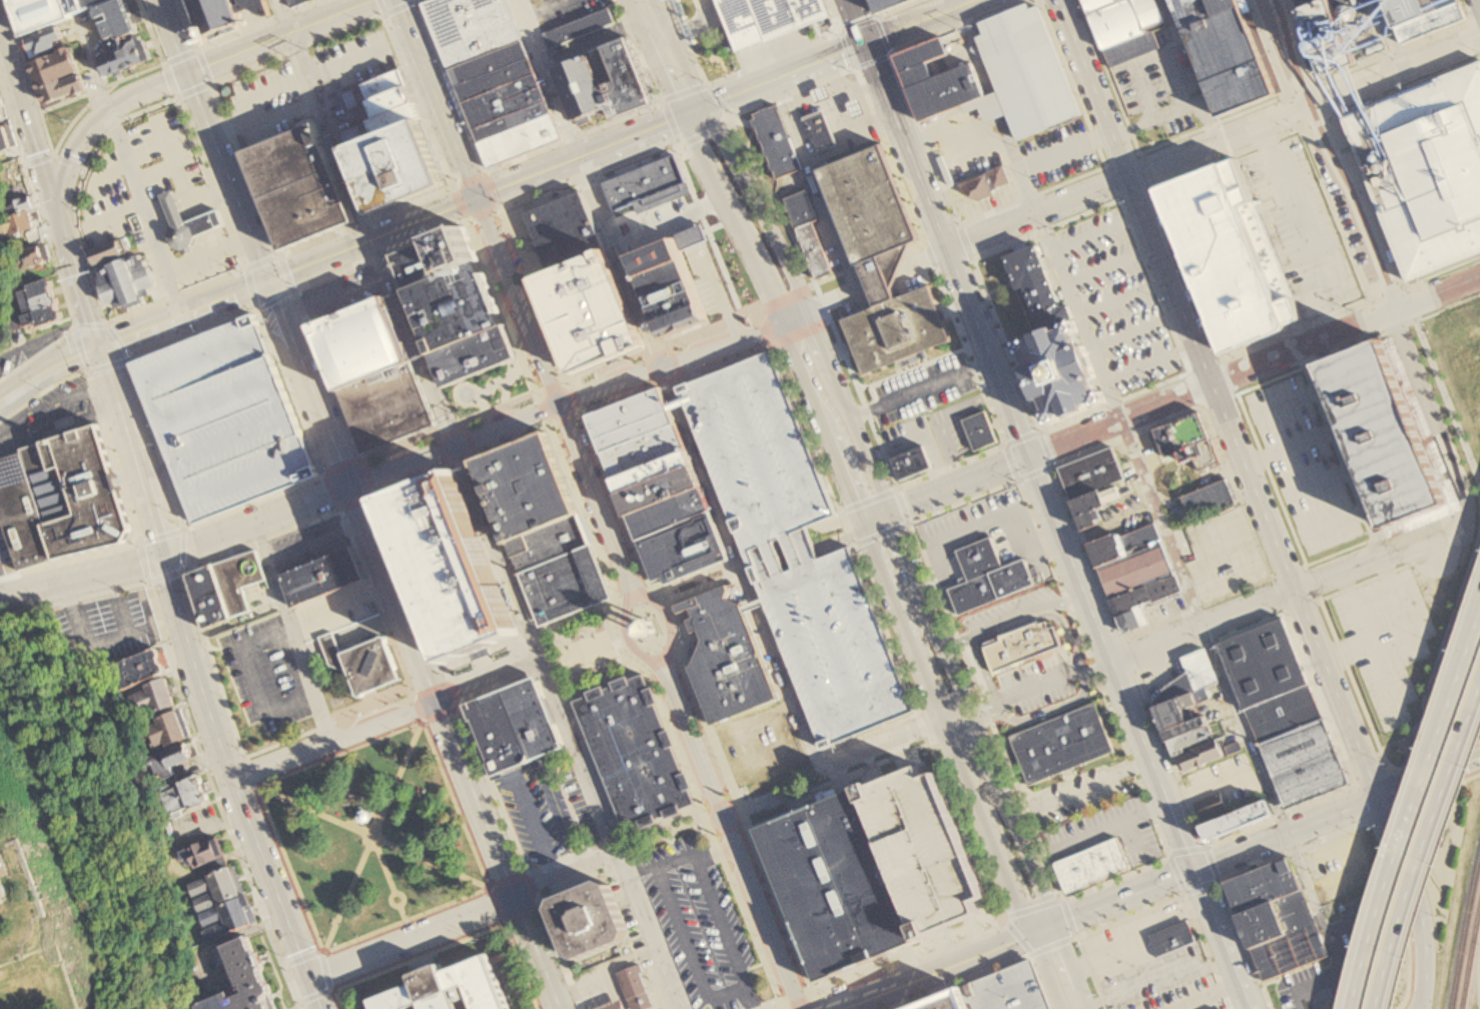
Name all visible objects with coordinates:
building: (292, 1)
road: (1479, 1)
road: (955, 3)
building: (1307, 3)
building: (885, 4)
building: (46, 9)
road: (548, 9)
parking lot: (559, 10)
road: (393, 11)
building: (229, 14)
road: (891, 14)
building: (1425, 16)
building: (767, 18)
road: (921, 21)
building: (119, 22)
road: (859, 22)
building: (579, 24)
building: (471, 27)
building: (1126, 27)
building: (1342, 32)
road: (1478, 33)
road: (236, 35)
road: (283, 39)
road: (170, 40)
building: (49, 44)
road: (590, 44)
traffic signals: (869, 44)
building: (1228, 51)
road: (1289, 52)
road: (888, 54)
building: (123, 56)
road: (786, 57)
road: (652, 59)
road: (1152, 60)
parking lot: (352, 61)
road: (1367, 66)
road: (748, 69)
building: (1026, 70)
building: (577, 73)
road: (1395, 73)
building: (59, 76)
building: (938, 79)
road: (774, 80)
traffic signals: (187, 81)
road: (286, 84)
building: (385, 85)
parking lot: (1160, 87)
building: (500, 90)
road: (79, 96)
road: (177, 97)
road: (436, 98)
building: (392, 101)
parking lot: (268, 103)
road: (281, 110)
traffic signals: (703, 110)
road: (998, 110)
building: (1, 113)
road: (1174, 115)
building: (398, 117)
road: (1330, 117)
traffic signals: (681, 119)
road: (724, 123)
road: (93, 125)
road: (1335, 128)
road: (27, 131)
road: (65, 131)
building: (821, 131)
road: (1184, 136)
building: (5, 138)
building: (520, 140)
building: (776, 141)
road: (1306, 141)
road: (671, 147)
road: (1067, 151)
road: (534, 154)
road: (57, 156)
road: (728, 157)
road: (579, 159)
road: (174, 162)
building: (397, 165)
road: (113, 170)
building: (1425, 171)
road: (1129, 177)
parking lot: (135, 179)
road: (228, 181)
building: (643, 183)
building: (984, 184)
building: (298, 185)
road: (818, 186)
road: (1153, 189)
road: (1349, 200)
road: (193, 201)
road: (1119, 202)
building: (17, 207)
road: (497, 207)
road: (776, 207)
parking lot: (1345, 211)
road: (146, 212)
road: (114, 216)
road: (670, 221)
building: (19, 223)
road: (365, 223)
road: (961, 223)
building: (187, 225)
road: (448, 228)
road: (1302, 228)
building: (566, 231)
building: (808, 232)
road: (1099, 232)
road: (373, 241)
road: (965, 241)
road: (52, 247)
road: (1021, 248)
road: (948, 250)
building: (110, 252)
road: (209, 255)
road: (280, 255)
building: (1233, 255)
building: (434, 257)
road: (923, 257)
building: (33, 258)
road: (932, 258)
parking lot: (207, 262)
building: (882, 265)
road: (1113, 267)
road: (1440, 274)
road: (711, 277)
traffic signals: (269, 282)
building: (126, 283)
road: (75, 285)
road: (1001, 286)
building: (670, 288)
building: (1040, 290)
road: (1395, 291)
road: (1437, 293)
road: (292, 295)
building: (37, 297)
road: (334, 298)
road: (1126, 299)
road: (517, 300)
parking lot: (1115, 302)
road: (1392, 302)
road: (832, 303)
road: (1408, 305)
building: (454, 306)
road: (1447, 308)
road: (130, 311)
building: (589, 311)
road: (1390, 312)
road: (750, 313)
road: (181, 315)
road: (783, 316)
building: (42, 317)
road: (1378, 325)
road: (765, 328)
road: (1139, 332)
road: (1278, 337)
road: (31, 347)
traffic signals: (94, 349)
building: (474, 355)
road: (672, 359)
road: (683, 359)
road: (971, 360)
road: (120, 362)
parking lot: (10, 364)
road: (1153, 364)
road: (911, 368)
road: (647, 369)
road: (44, 370)
building: (1065, 373)
building: (372, 374)
road: (528, 375)
road: (462, 383)
road: (502, 383)
road: (1233, 384)
road: (1207, 385)
road: (920, 389)
parking lot: (921, 391)
road: (505, 393)
park: (491, 395)
road: (1218, 397)
road: (481, 401)
road: (1219, 401)
road: (1291, 401)
road: (52, 404)
road: (1448, 404)
road: (1426, 406)
road: (489, 410)
road: (582, 413)
parking lot: (50, 416)
building: (222, 419)
parking lot: (222, 419)
building: (632, 419)
road: (342, 420)
road: (943, 423)
road: (505, 426)
road: (56, 430)
building: (980, 431)
road: (922, 433)
building: (1389, 434)
building: (1189, 440)
road: (816, 449)
road: (1289, 449)
building: (644, 451)
road: (1340, 451)
road: (697, 455)
traffic signals: (1031, 457)
road: (460, 460)
building: (913, 463)
parking lot: (1305, 465)
building: (653, 471)
building: (1093, 474)
road: (319, 477)
road: (118, 478)
road: (1018, 482)
road: (1322, 483)
traffic signals: (351, 487)
building: (526, 487)
road: (948, 489)
building: (660, 490)
road: (1236, 491)
road: (372, 495)
road: (595, 496)
building: (59, 500)
building: (1209, 500)
road: (903, 507)
building: (1090, 508)
road: (583, 513)
building: (669, 513)
road: (1336, 519)
road: (920, 522)
road: (840, 523)
road: (972, 523)
road: (229, 534)
road: (316, 542)
road: (844, 542)
building: (548, 544)
parking lot: (308, 545)
building: (1128, 546)
building: (684, 549)
building: (796, 550)
parking lot: (796, 550)
road: (1089, 554)
traffic signals: (158, 560)
road: (1248, 560)
road: (160, 566)
road: (179, 566)
building: (451, 567)
building: (1139, 572)
road: (1182, 574)
road: (699, 576)
building: (322, 577)
building: (989, 577)
road: (1365, 581)
road: (183, 585)
building: (565, 586)
road: (1294, 587)
building: (224, 589)
road: (409, 589)
road: (707, 589)
road: (0, 593)
road: (1240, 593)
road: (377, 594)
building: (1147, 595)
road: (73, 602)
road: (1400, 604)
parking lot: (340, 614)
road: (120, 617)
road: (576, 617)
road: (667, 619)
road: (1011, 620)
building: (1135, 620)
parking lot: (106, 627)
building: (646, 628)
road: (633, 629)
road: (292, 634)
road: (529, 635)
road: (624, 637)
road: (625, 637)
road: (258, 640)
parking lot: (1386, 640)
road: (98, 641)
road: (615, 641)
road: (618, 641)
road: (1370, 643)
road: (413, 645)
building: (1023, 645)
road: (533, 649)
road: (588, 652)
road: (1441, 652)
road: (582, 654)
road: (480, 655)
building: (727, 658)
road: (945, 662)
road: (528, 663)
building: (362, 664)
road: (494, 664)
building: (1265, 664)
road: (549, 666)
building: (131, 668)
road: (931, 668)
road: (985, 668)
road: (1080, 668)
road: (541, 670)
parking lot: (271, 676)
building: (1191, 677)
road: (603, 684)
parking lot: (1039, 684)
road: (1038, 687)
road: (430, 689)
road: (495, 689)
road: (409, 691)
road: (454, 694)
building: (147, 696)
road: (944, 700)
traffic signals: (436, 701)
road: (947, 703)
road: (416, 709)
road: (440, 714)
building: (1183, 714)
building: (1285, 715)
road: (1367, 719)
road: (385, 721)
road: (327, 724)
building: (514, 726)
road: (947, 729)
building: (158, 730)
road: (1139, 732)
road: (868, 734)
road: (673, 737)
building: (1191, 741)
building: (1062, 744)
road: (339, 754)
building: (631, 754)
building: (1202, 755)
building: (170, 759)
road: (937, 765)
building: (1304, 765)
road: (249, 770)
road: (213, 774)
road: (1428, 776)
road: (1398, 778)
road: (1375, 779)
road: (1213, 783)
road: (256, 784)
road: (254, 788)
road: (493, 789)
road: (1444, 790)
road: (1080, 791)
building: (179, 793)
road: (734, 793)
road: (236, 794)
road: (1342, 794)
parking lot: (1079, 795)
road: (1404, 796)
flagpole: (356, 798)
road: (798, 798)
flagpole: (367, 799)
road: (556, 799)
road: (1363, 804)
flagpole: (349, 805)
road: (455, 805)
road: (526, 806)
building: (1213, 806)
road: (1410, 807)
road: (378, 811)
parking lot: (549, 811)
road: (1388, 813)
building: (363, 817)
road: (349, 822)
building: (1238, 822)
road: (209, 826)
road: (1097, 831)
road: (1286, 831)
road: (371, 837)
park: (372, 837)
road: (372, 837)
road: (732, 837)
road: (1136, 841)
road: (1320, 841)
road: (615, 842)
building: (926, 851)
parking lot: (926, 851)
building: (199, 852)
building: (516, 852)
road: (1005, 854)
road: (1367, 854)
road: (1426, 854)
road: (1158, 862)
road: (383, 865)
road: (574, 866)
road: (659, 867)
building: (1093, 867)
parking lot: (1342, 867)
traffic signals: (1195, 869)
road: (289, 870)
road: (526, 873)
road: (530, 874)
road: (508, 880)
road: (1216, 881)
road: (533, 884)
road: (582, 886)
building: (838, 886)
road: (490, 887)
building: (1264, 887)
building: (209, 888)
road: (489, 890)
road: (276, 895)
building: (1, 896)
road: (1177, 897)
road: (1411, 900)
road: (389, 902)
road: (1113, 902)
road: (541, 903)
road: (495, 906)
road: (1026, 906)
road: (1030, 910)
road: (401, 914)
road: (716, 914)
road: (744, 914)
road: (521, 916)
building: (220, 918)
road: (1068, 919)
road: (404, 920)
building: (1277, 921)
road: (501, 922)
road: (1356, 922)
road: (504, 923)
building: (591, 923)
parking lot: (697, 924)
traffic signals: (1053, 926)
railway: (1463, 928)
road: (648, 929)
road: (422, 933)
traffic signals: (1032, 934)
flagpole: (487, 937)
building: (1172, 938)
road: (460, 940)
flagpole: (480, 940)
parking lot: (1339, 942)
flagpole: (473, 943)
road: (318, 951)
road: (688, 951)
road: (1145, 951)
road: (1105, 953)
building: (1290, 953)
road: (1031, 954)
road: (321, 955)
parking lot: (1126, 956)
road: (1333, 956)
road: (301, 957)
road: (562, 958)
railway: (1471, 958)
road: (420, 960)
road: (284, 965)
road: (751, 968)
road: (936, 971)
road: (992, 971)
road: (1048, 971)
road: (1090, 972)
road: (325, 973)
building: (245, 976)
traffic signals: (309, 979)
road: (289, 984)
road: (1283, 985)
road: (1315, 987)
road: (332, 990)
building: (448, 990)
building: (1008, 990)
parking garage: (1008, 990)
road: (1124, 990)
building: (636, 991)
road: (808, 991)
road: (316, 995)
road: (1208, 996)
parking lot: (1185, 997)
road: (337, 1000)
road: (1225, 1000)
road: (299, 1002)
road: (780, 1002)
building: (947, 1002)
road: (297, 1006)
building: (613, 1006)

